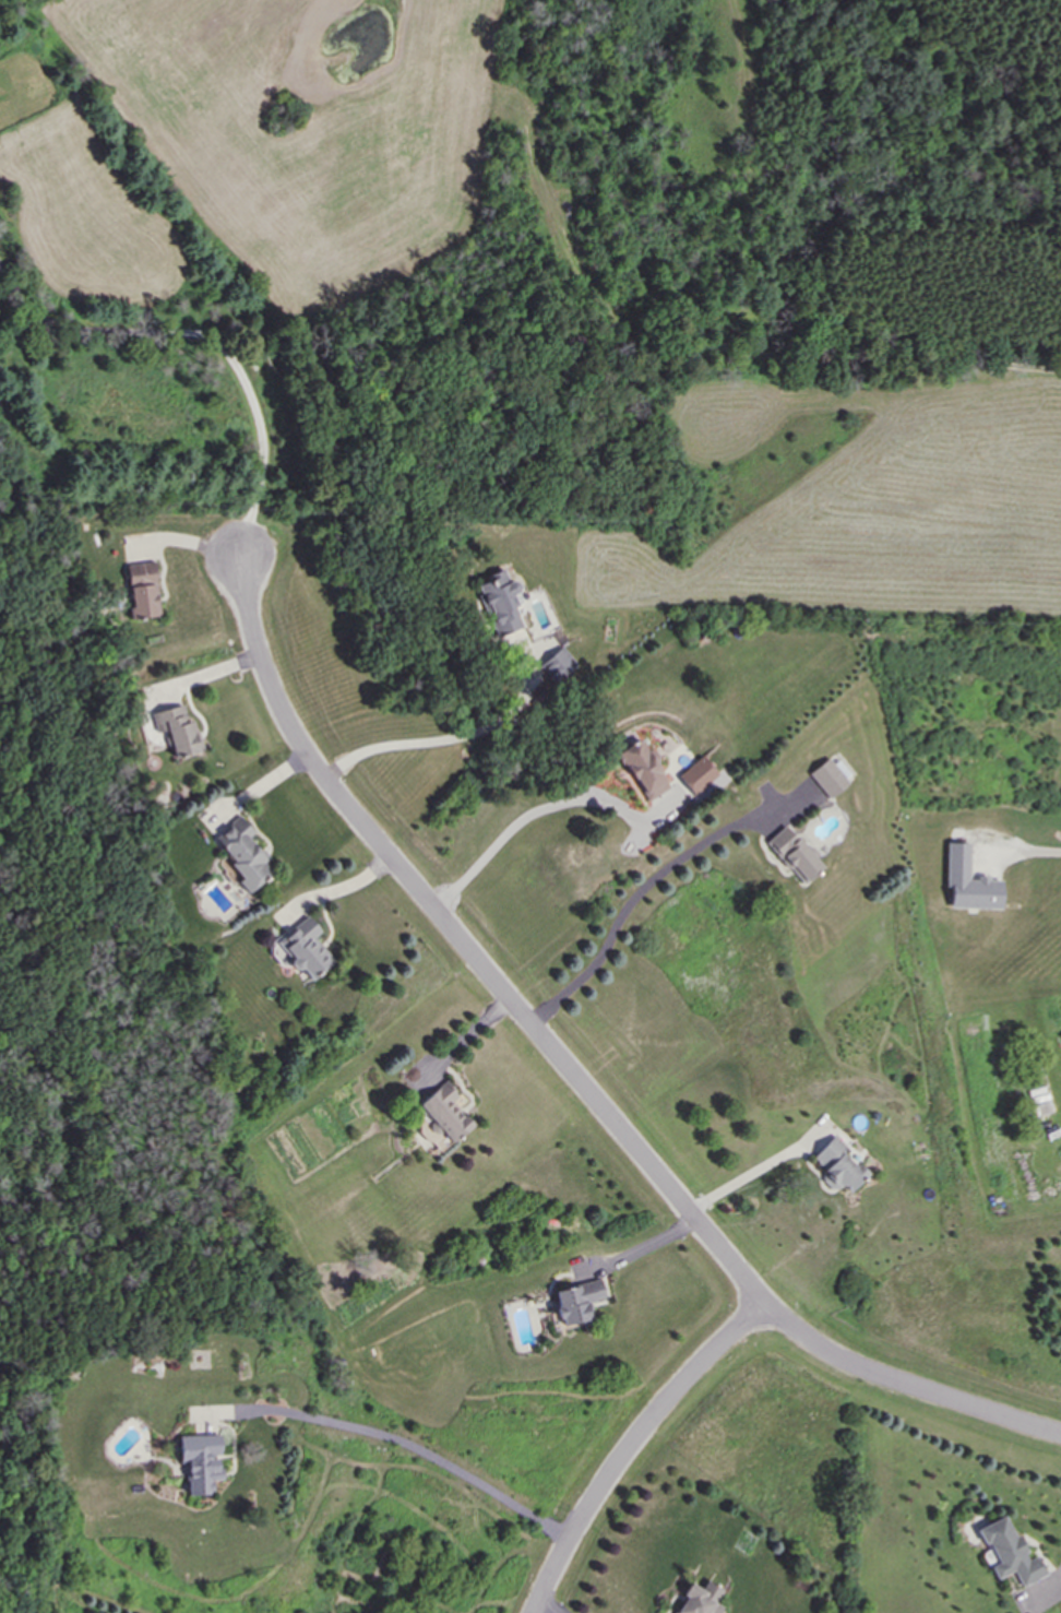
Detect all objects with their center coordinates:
road: (212, 339)
road: (187, 543)
building: (143, 590)
building: (501, 602)
building: (558, 664)
road: (204, 675)
building: (180, 731)
road: (444, 738)
building: (644, 770)
building: (698, 775)
building: (830, 778)
road: (258, 785)
road: (522, 818)
road: (1045, 853)
building: (243, 854)
building: (794, 854)
building: (968, 881)
road: (647, 882)
road: (335, 889)
building: (307, 949)
road: (465, 1039)
road: (62, 1059)
road: (574, 1075)
building: (442, 1117)
building: (838, 1165)
road: (760, 1181)
road: (637, 1248)
building: (577, 1302)
road: (413, 1444)
road: (631, 1446)
building: (201, 1461)
building: (1010, 1553)
building: (700, 1600)
road: (551, 1606)

